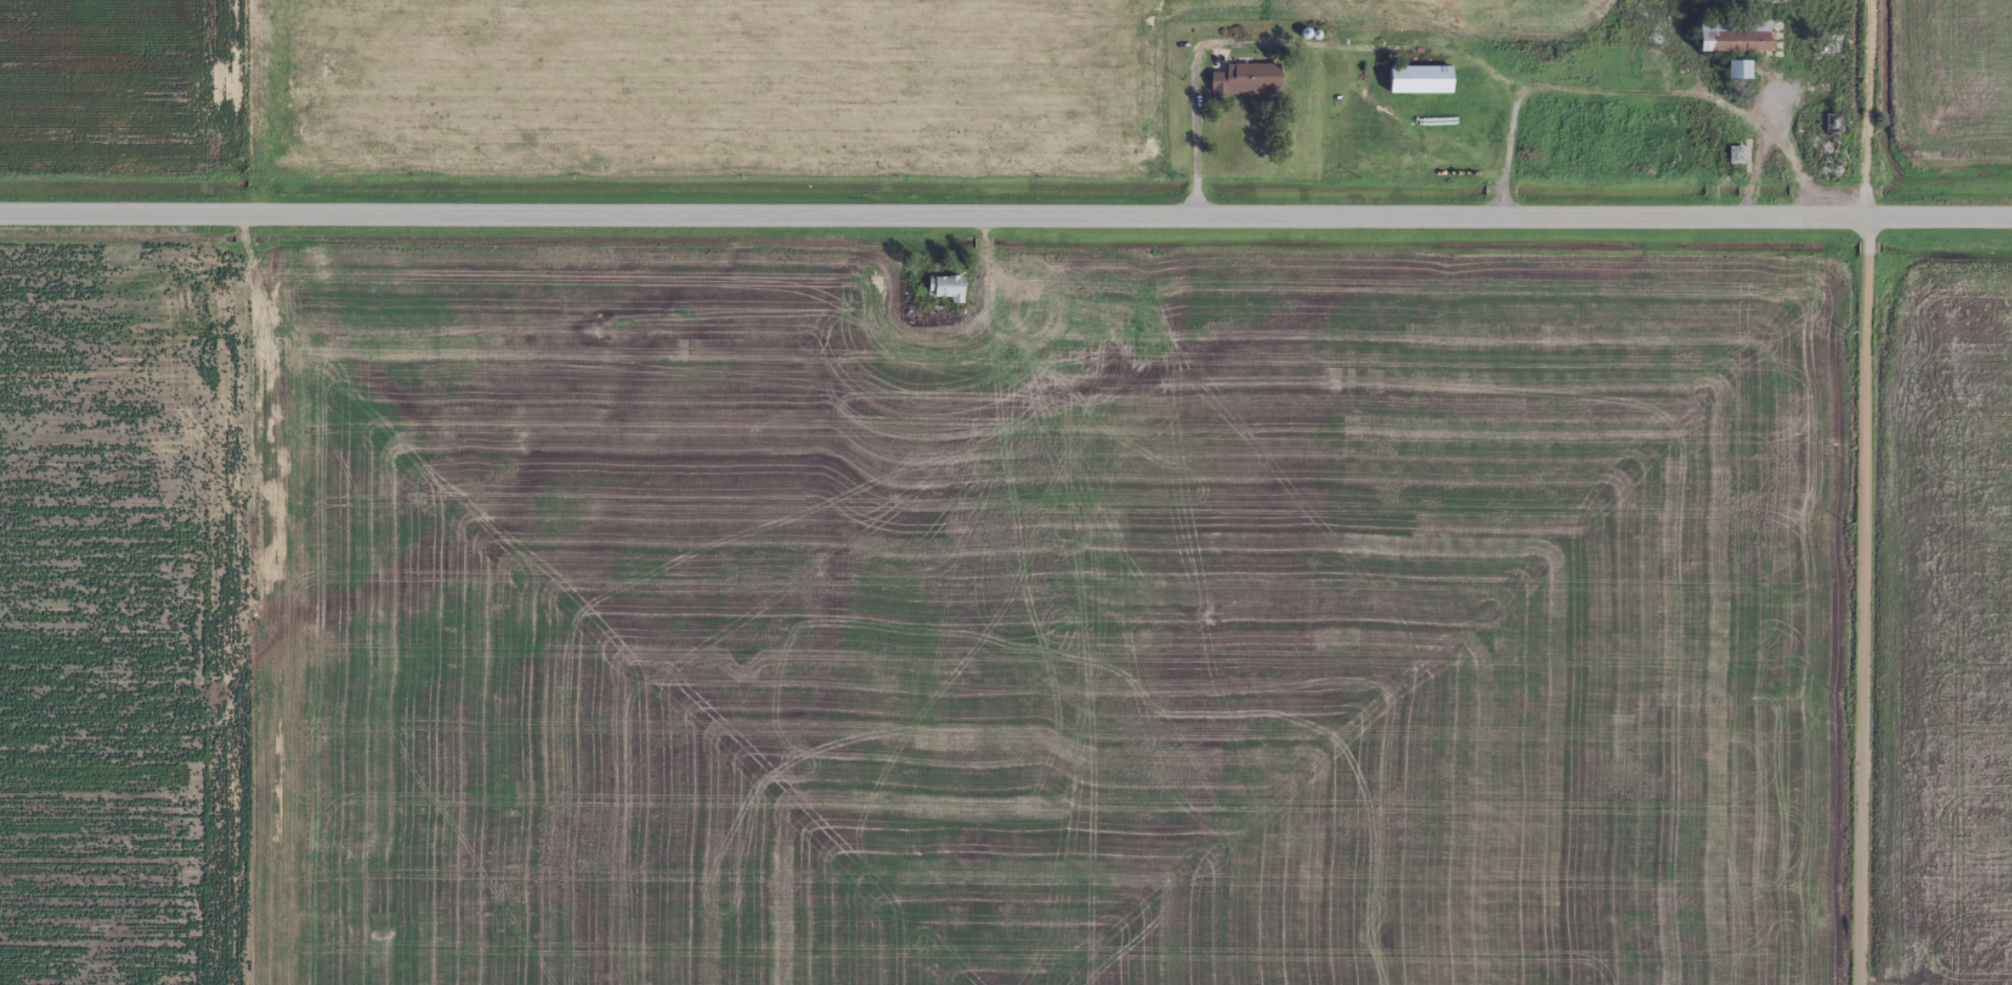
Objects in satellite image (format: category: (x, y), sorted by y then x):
building: (1734, 36)
building: (1735, 69)
building: (1247, 79)
building: (1420, 79)
building: (1736, 155)
road: (934, 217)
road: (1940, 219)
building: (947, 288)
road: (1868, 492)
building: (1914, 559)

